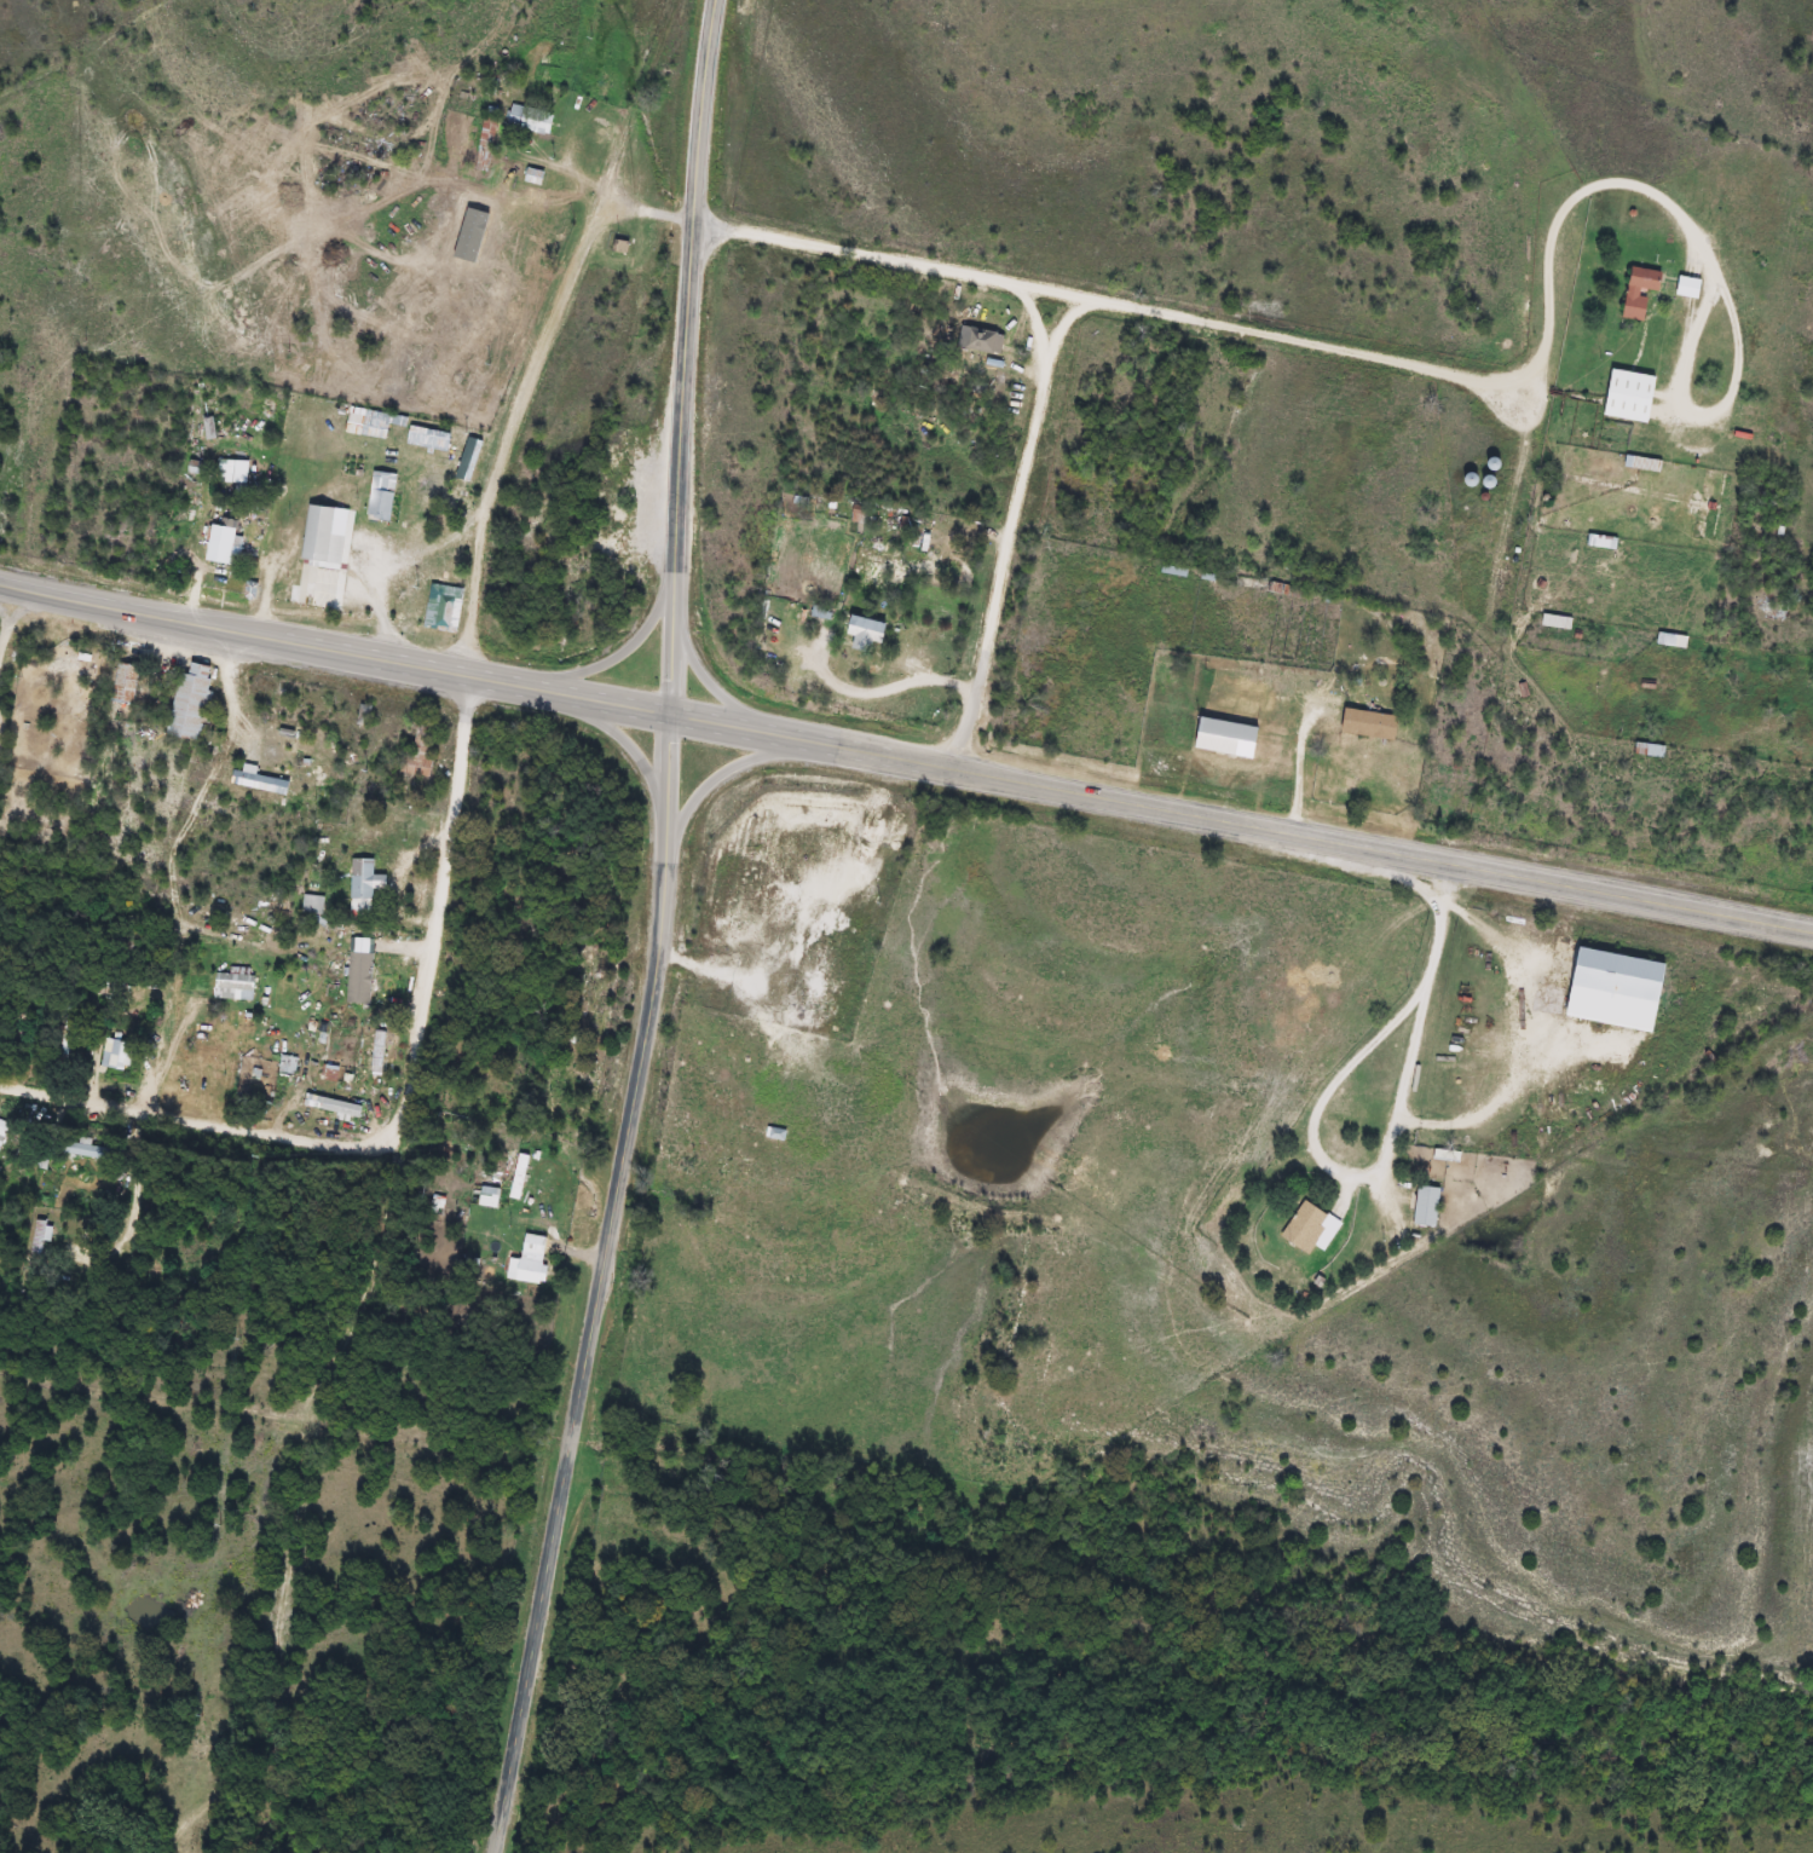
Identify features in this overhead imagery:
building: (530, 120)
building: (533, 177)
road: (1571, 207)
building: (1688, 288)
building: (1639, 291)
road: (1113, 304)
road: (1066, 324)
road: (548, 328)
building: (980, 340)
road: (1738, 348)
building: (1629, 397)
building: (374, 425)
building: (427, 440)
building: (470, 461)
building: (381, 497)
road: (1014, 524)
building: (324, 538)
building: (221, 543)
building: (445, 608)
building: (1555, 620)
building: (866, 634)
road: (635, 641)
building: (1671, 641)
road: (723, 665)
road: (1483, 683)
building: (125, 685)
building: (190, 700)
building: (1369, 725)
building: (1226, 739)
building: (1649, 751)
road: (906, 752)
road: (642, 755)
road: (722, 778)
building: (260, 784)
road: (180, 865)
building: (362, 887)
road: (439, 913)
road: (669, 933)
building: (358, 979)
building: (233, 988)
building: (1616, 991)
building: (374, 1049)
building: (116, 1055)
building: (203, 1074)
building: (331, 1075)
road: (1408, 1091)
building: (331, 1106)
road: (198, 1119)
building: (775, 1135)
building: (1, 1138)
building: (87, 1151)
building: (1425, 1207)
building: (1307, 1228)
building: (36, 1243)
building: (533, 1243)
building: (524, 1270)

